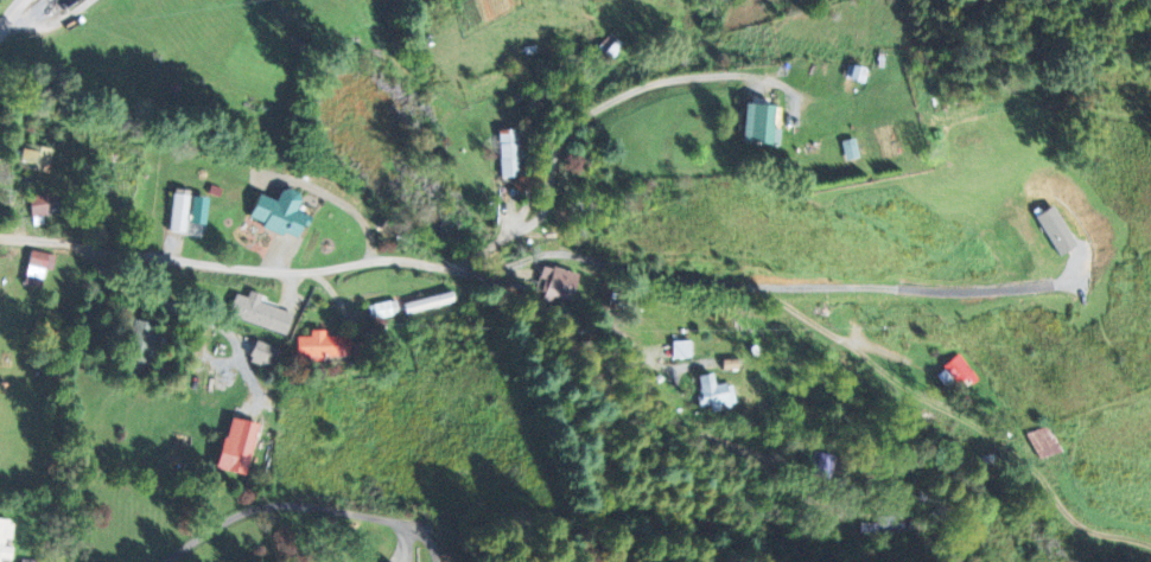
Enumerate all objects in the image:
building: (66, 2)
road: (11, 13)
road: (39, 21)
building: (611, 44)
dam: (396, 60)
dam: (348, 101)
building: (761, 122)
road: (572, 123)
building: (508, 152)
dam: (288, 153)
building: (36, 154)
dam: (269, 170)
building: (44, 202)
building: (178, 211)
building: (280, 211)
building: (1057, 228)
building: (38, 264)
road: (447, 267)
building: (559, 281)
road: (916, 288)
building: (428, 300)
building: (383, 307)
road: (184, 309)
building: (263, 312)
road: (838, 337)
building: (323, 343)
building: (140, 347)
building: (682, 347)
building: (361, 349)
building: (263, 351)
building: (955, 370)
building: (714, 391)
building: (1043, 441)
building: (237, 443)
road: (288, 504)
building: (883, 524)
building: (6, 537)
building: (27, 560)
building: (386, 560)

